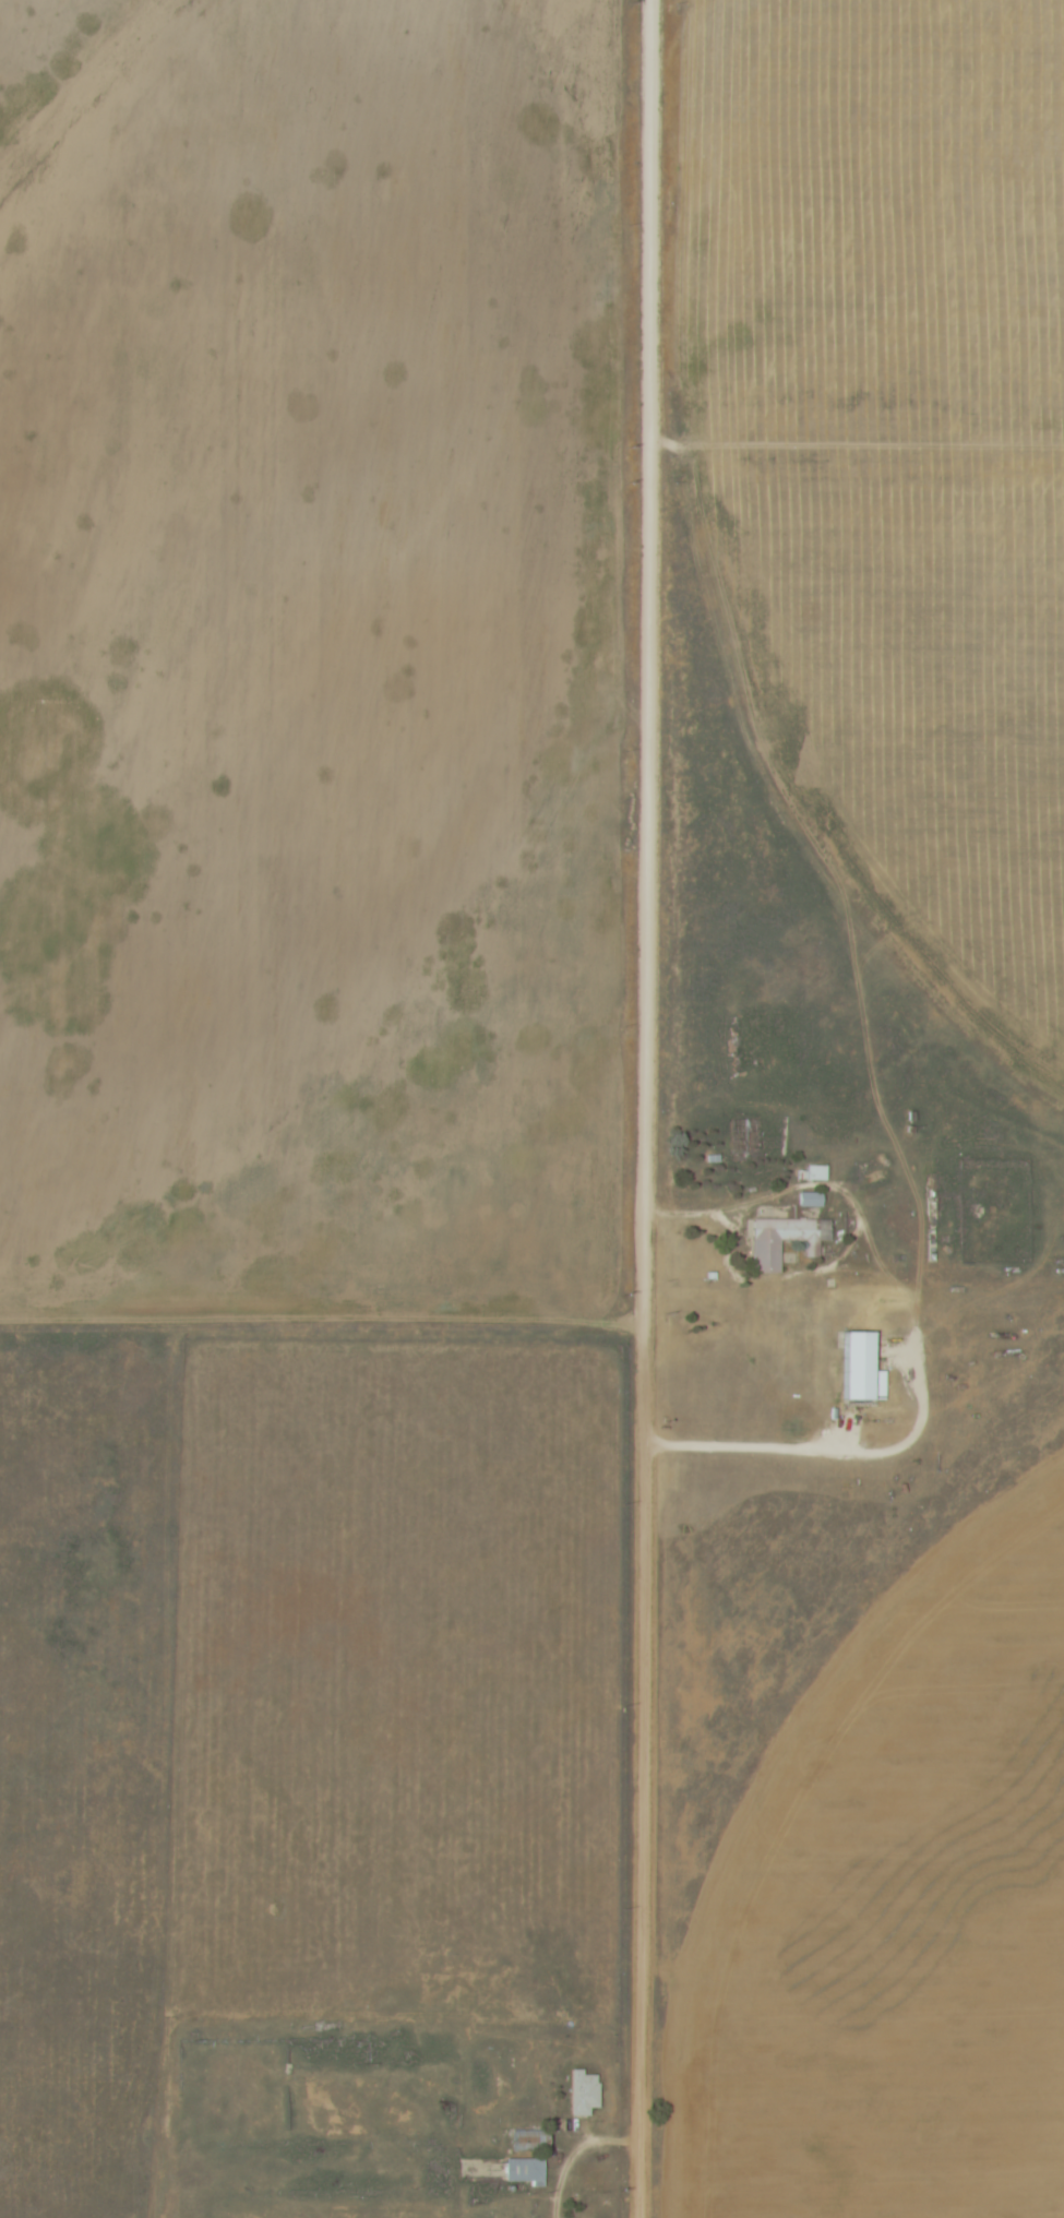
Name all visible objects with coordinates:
road: (648, 1109)
building: (814, 1174)
building: (812, 1202)
road: (717, 1216)
building: (768, 1248)
building: (584, 2095)
road: (581, 2157)

